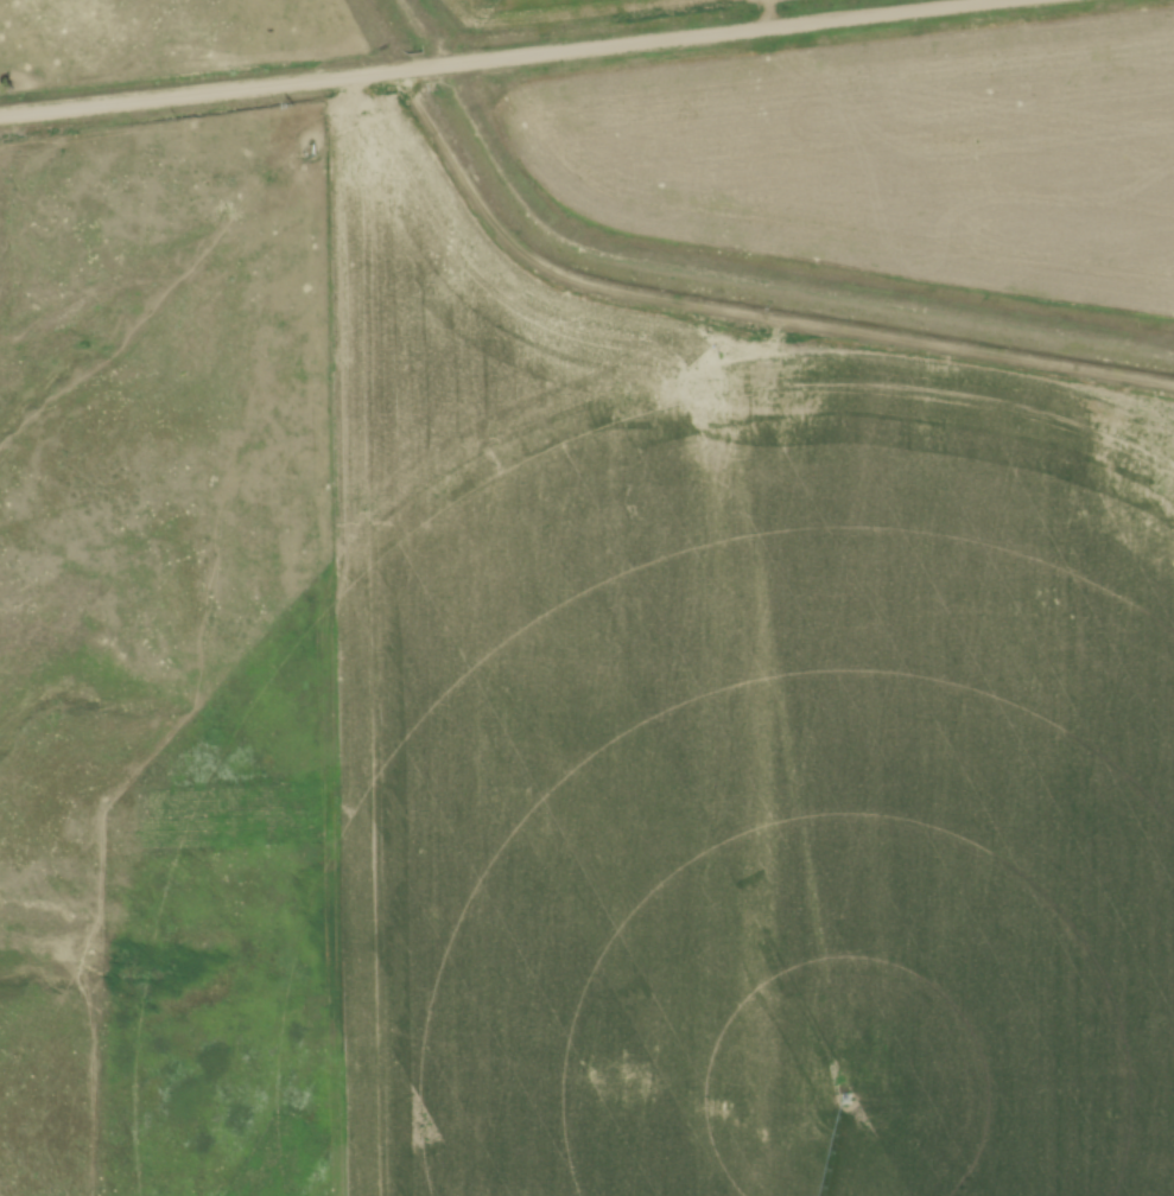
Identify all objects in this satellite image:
road: (515, 57)
crop: (761, 799)

